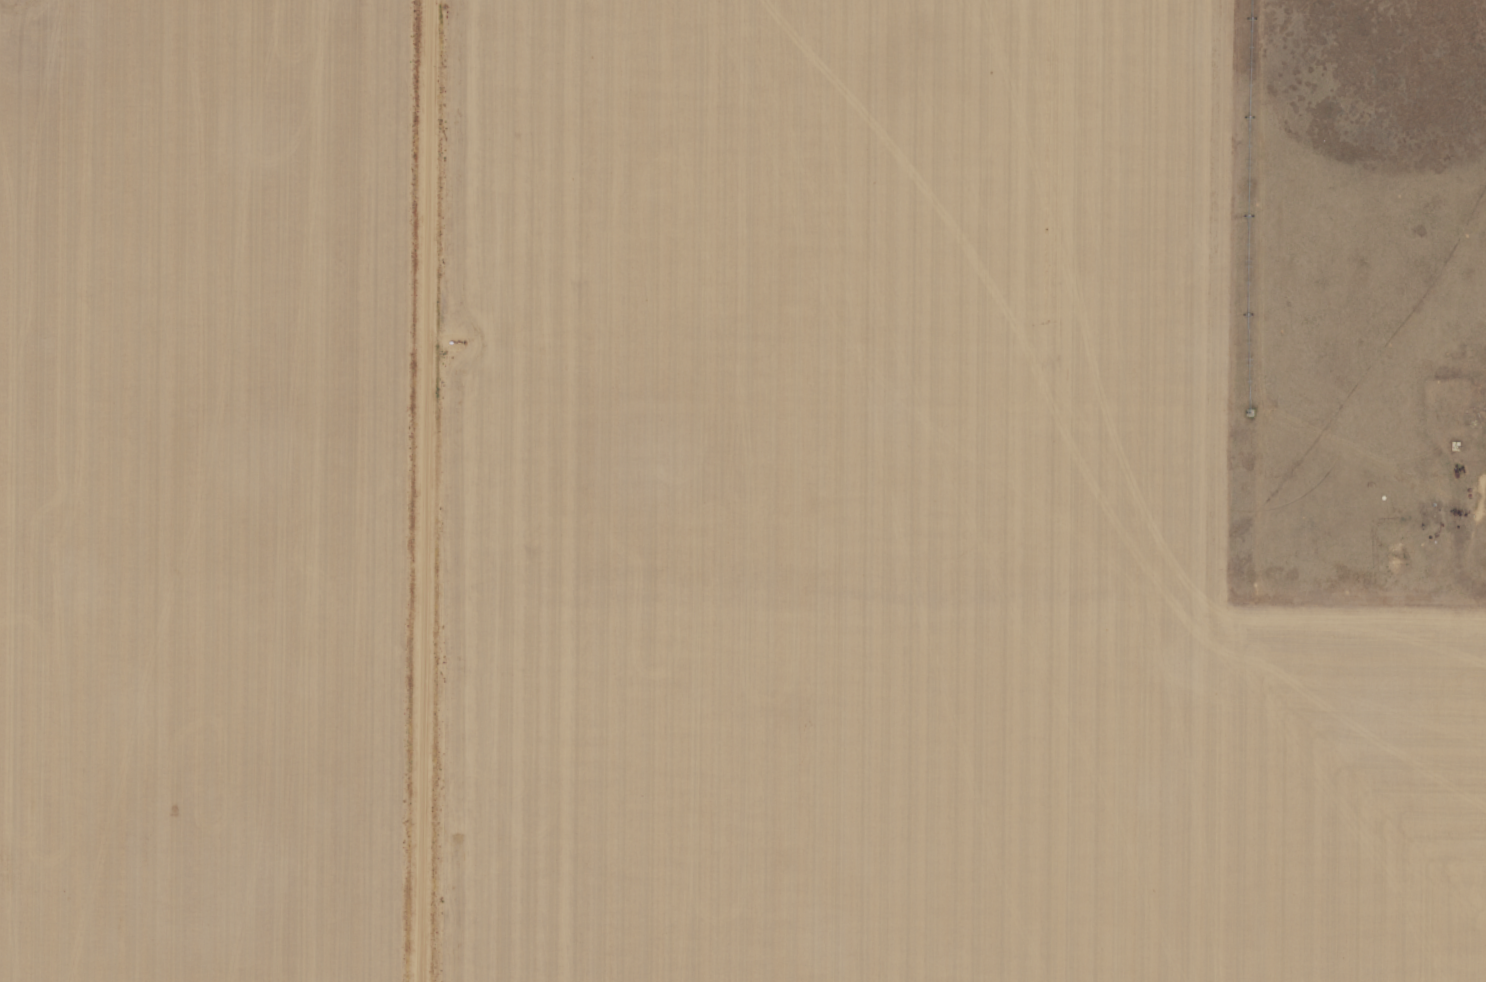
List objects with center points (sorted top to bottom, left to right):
road: (429, 491)

